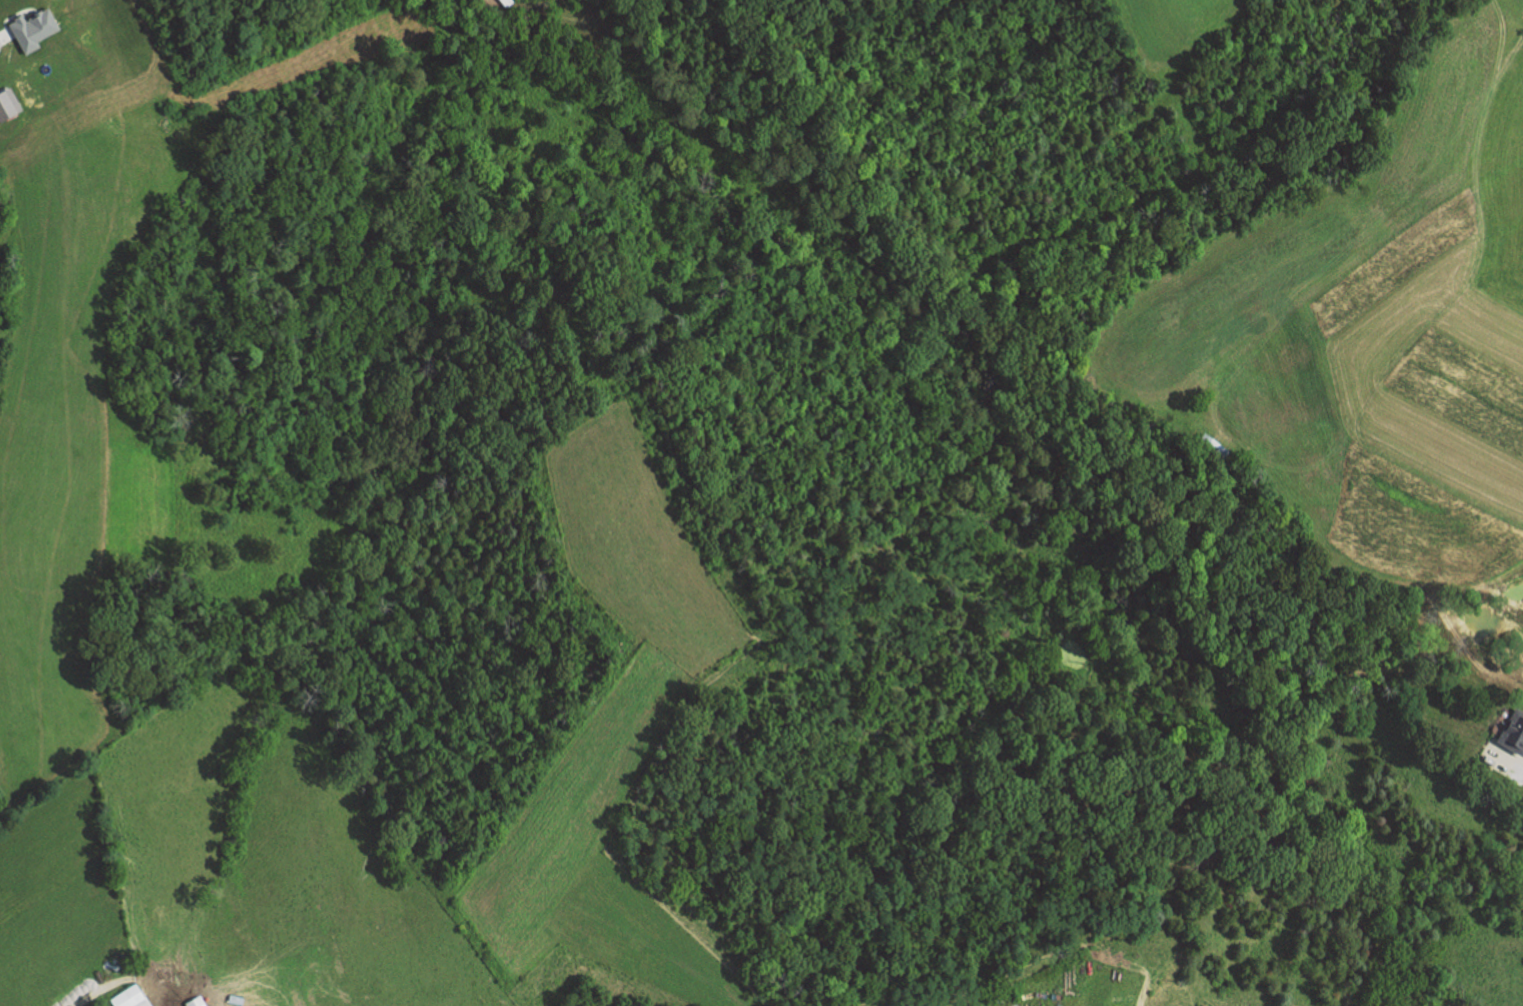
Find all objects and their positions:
building: (509, 2)
road: (1522, 7)
building: (31, 28)
road: (6, 35)
road: (1501, 35)
building: (8, 103)
road: (1480, 235)
crop: (1398, 262)
crop: (1464, 388)
building: (1210, 448)
crop: (1414, 527)
building: (1512, 731)
road: (1505, 762)
crop: (567, 805)
road: (96, 991)
building: (132, 997)
building: (236, 999)
building: (197, 1001)

